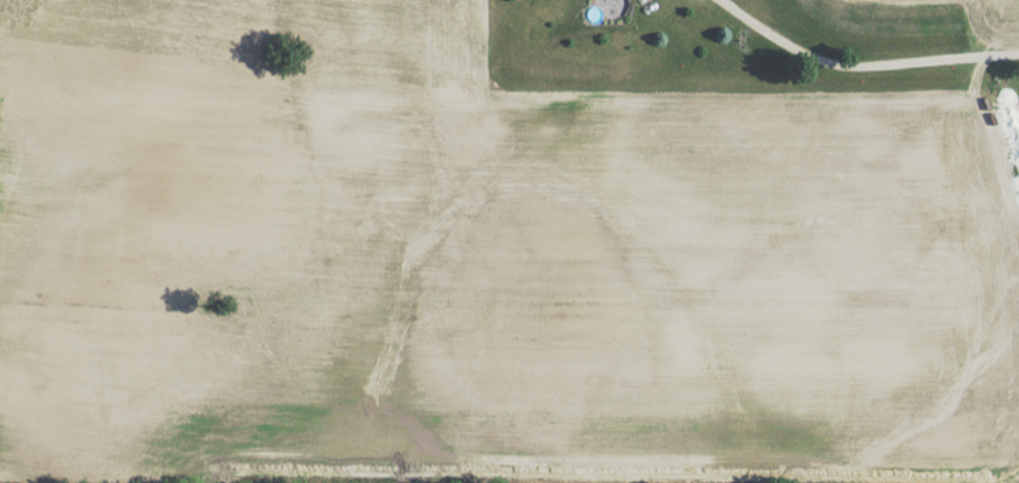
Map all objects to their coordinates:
road: (869, 60)

